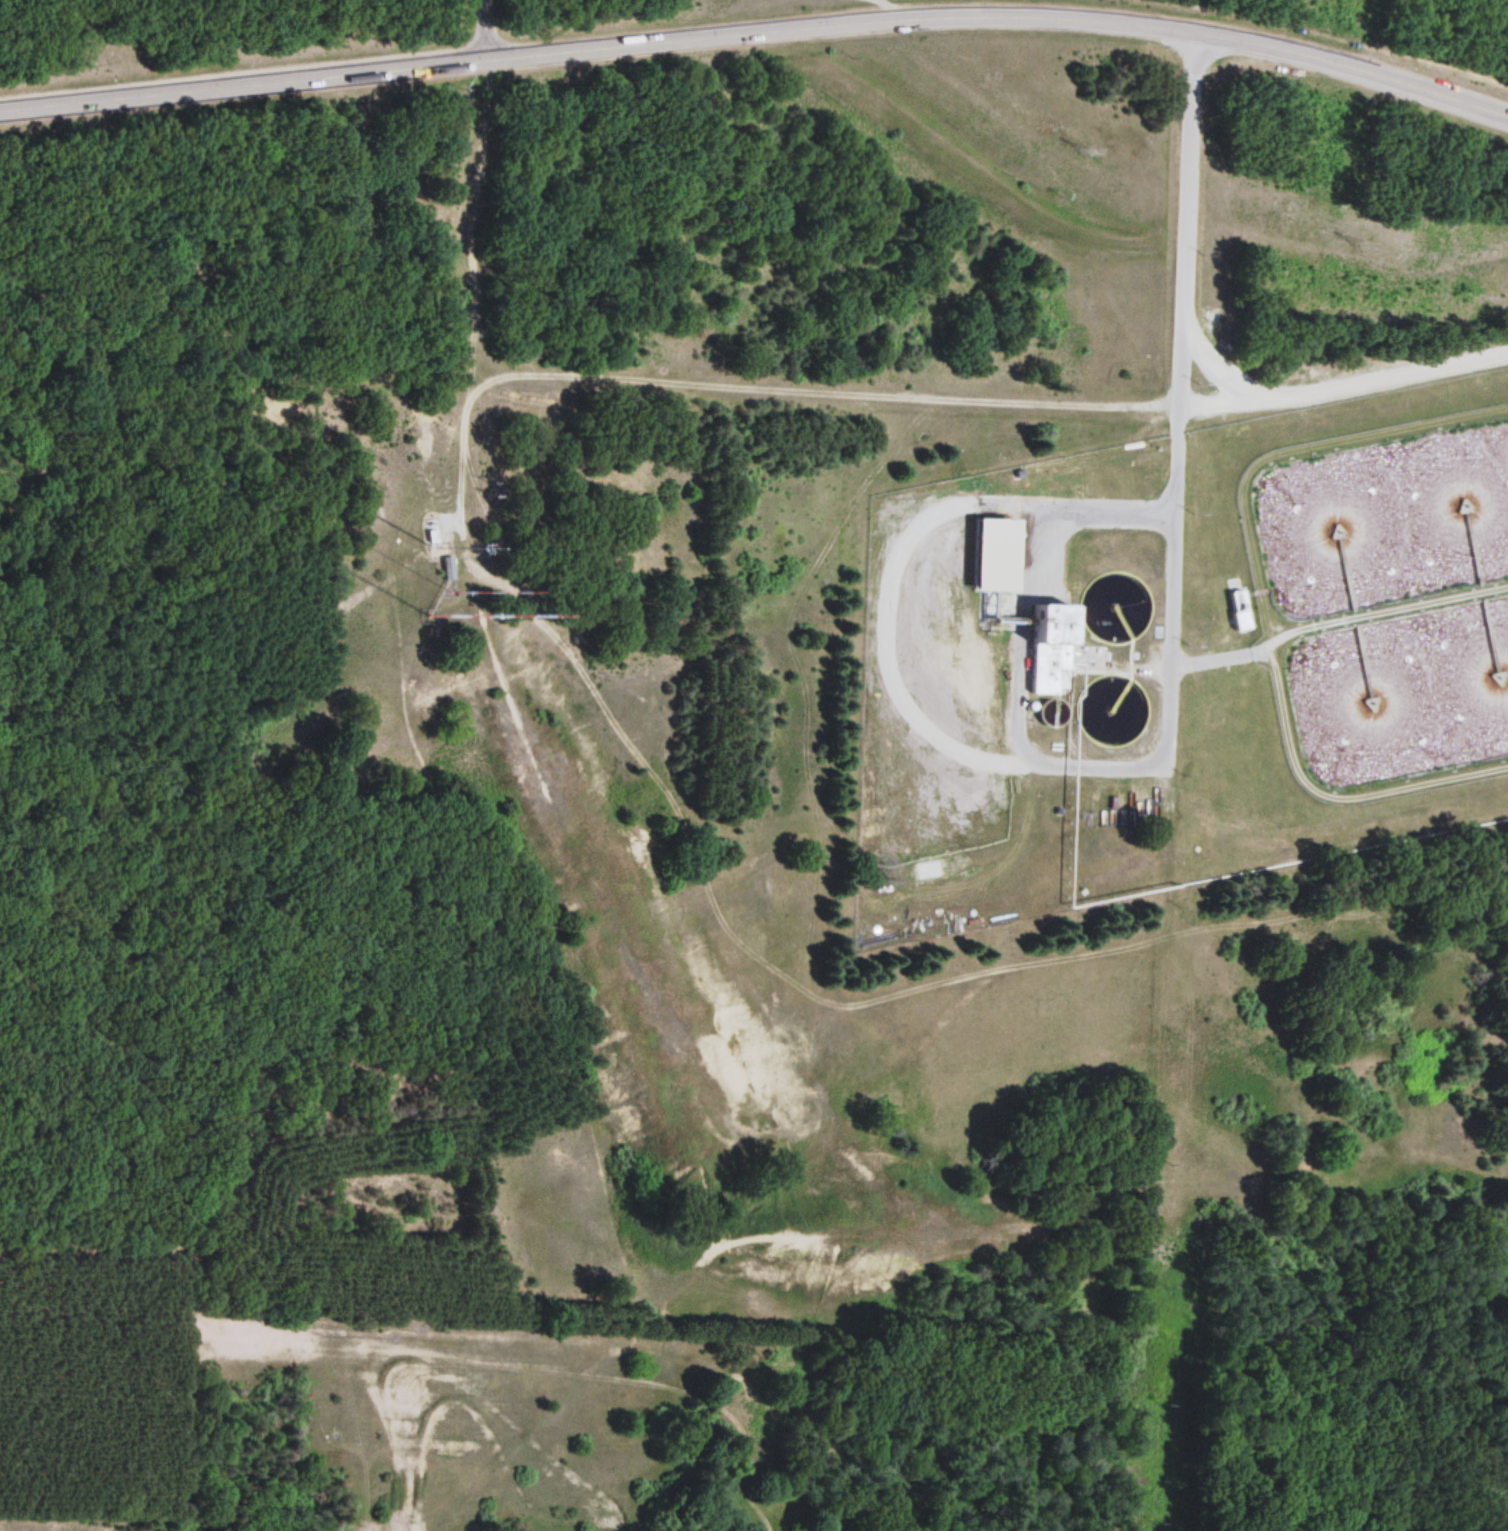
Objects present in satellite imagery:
road: (482, 32)
road: (758, 36)
road: (1181, 352)
building: (449, 570)
road: (1240, 615)
building: (1063, 649)
wastewater plant: (1185, 658)
road: (1080, 789)

